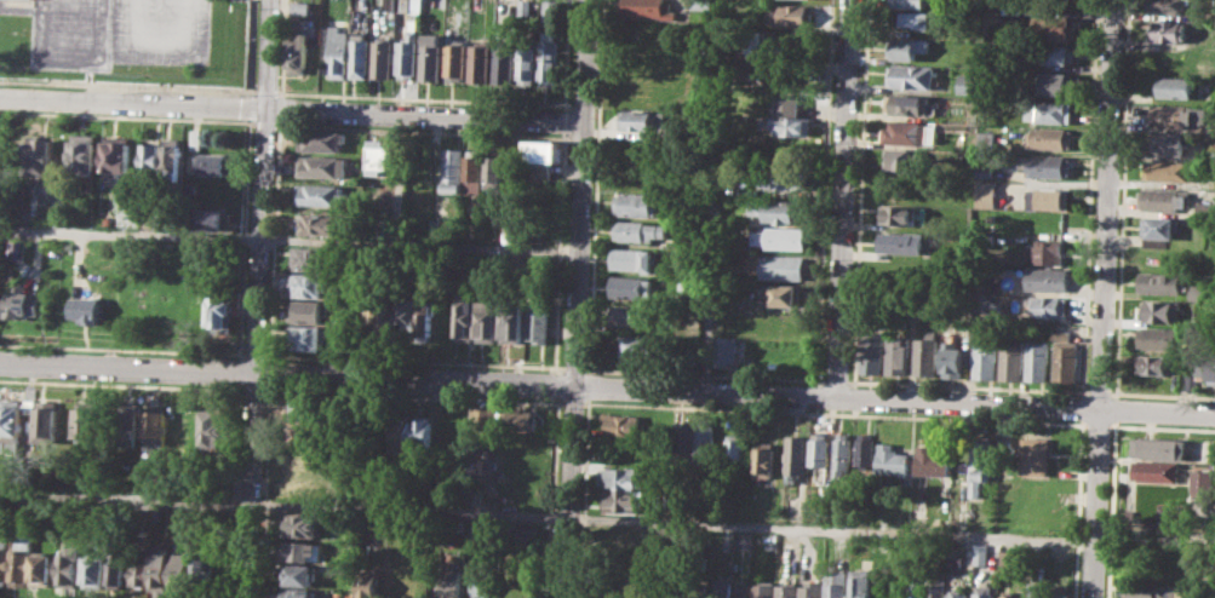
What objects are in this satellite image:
building: (698, 4)
building: (910, 4)
building: (389, 5)
building: (405, 5)
building: (525, 5)
building: (299, 6)
building: (1168, 6)
building: (647, 7)
building: (552, 10)
building: (992, 11)
building: (796, 15)
building: (916, 19)
building: (1055, 27)
building: (1170, 30)
parking lot: (164, 31)
road: (165, 41)
building: (909, 46)
road: (252, 47)
building: (338, 51)
building: (297, 52)
building: (1056, 53)
building: (360, 54)
building: (407, 54)
road: (568, 54)
building: (431, 56)
building: (382, 57)
building: (455, 59)
building: (480, 61)
building: (527, 61)
building: (549, 62)
building: (504, 64)
building: (911, 75)
building: (1055, 82)
building: (967, 84)
street lamp: (7, 85)
building: (1175, 86)
street lamp: (132, 91)
building: (911, 104)
road: (292, 108)
building: (1050, 111)
building: (1173, 115)
building: (642, 119)
road: (252, 120)
road: (566, 120)
building: (790, 120)
building: (905, 132)
building: (199, 137)
building: (1050, 137)
building: (321, 139)
building: (1169, 143)
building: (1, 153)
building: (87, 153)
building: (120, 154)
building: (174, 156)
building: (380, 156)
building: (541, 156)
building: (42, 157)
building: (153, 159)
building: (905, 159)
building: (218, 163)
building: (1050, 165)
building: (322, 166)
building: (452, 168)
building: (1168, 169)
building: (985, 171)
building: (495, 172)
building: (475, 174)
building: (778, 178)
road: (597, 185)
road: (825, 190)
road: (860, 190)
building: (985, 192)
building: (323, 195)
road: (712, 195)
road: (1088, 195)
road: (844, 197)
building: (1048, 199)
road: (1121, 199)
building: (1163, 199)
building: (636, 203)
building: (29, 205)
building: (1204, 208)
building: (781, 209)
building: (899, 214)
building: (218, 217)
building: (322, 223)
building: (443, 226)
building: (638, 230)
building: (1157, 230)
building: (512, 234)
building: (781, 237)
road: (290, 238)
road: (274, 241)
building: (900, 242)
building: (19, 248)
road: (560, 252)
building: (1048, 252)
building: (314, 258)
building: (635, 258)
building: (784, 266)
building: (1047, 278)
building: (1158, 282)
building: (314, 284)
building: (632, 287)
building: (781, 294)
road: (257, 298)
road: (578, 299)
road: (1102, 299)
building: (25, 304)
building: (1047, 306)
building: (87, 309)
building: (0, 310)
building: (311, 310)
building: (224, 311)
building: (1164, 311)
building: (630, 315)
building: (465, 316)
building: (407, 317)
building: (428, 318)
building: (488, 321)
building: (512, 321)
building: (538, 321)
building: (385, 324)
building: (1158, 338)
building: (314, 339)
building: (641, 345)
road: (124, 349)
building: (724, 350)
building: (872, 351)
building: (898, 353)
building: (927, 353)
road: (256, 355)
building: (1062, 357)
building: (1009, 360)
road: (414, 361)
building: (952, 361)
building: (985, 361)
building: (1036, 361)
building: (1205, 362)
building: (1154, 364)
road: (573, 368)
road: (270, 373)
road: (703, 374)
road: (835, 380)
road: (121, 384)
road: (557, 384)
road: (607, 385)
road: (965, 385)
road: (590, 386)
building: (625, 387)
road: (253, 390)
road: (1096, 391)
road: (1081, 393)
road: (1160, 393)
road: (413, 396)
road: (573, 403)
road: (1079, 408)
road: (1112, 409)
building: (314, 410)
road: (833, 413)
building: (11, 414)
building: (521, 420)
building: (45, 421)
building: (87, 421)
building: (482, 421)
building: (621, 422)
building: (127, 424)
road: (1095, 425)
building: (156, 426)
building: (219, 426)
building: (188, 427)
road: (1159, 427)
building: (425, 430)
building: (402, 435)
building: (313, 437)
building: (683, 438)
building: (8, 443)
building: (709, 443)
building: (819, 448)
building: (1159, 448)
building: (737, 450)
building: (866, 450)
building: (796, 453)
building: (842, 454)
building: (1036, 456)
building: (766, 459)
building: (308, 460)
building: (893, 460)
building: (980, 460)
building: (932, 461)
building: (518, 467)
building: (1156, 471)
building: (623, 477)
building: (1200, 482)
building: (305, 487)
road: (265, 491)
road: (555, 496)
road: (585, 498)
building: (620, 501)
road: (1076, 508)
road: (1108, 508)
road: (546, 514)
building: (305, 524)
building: (619, 536)
building: (882, 547)
building: (304, 550)
building: (982, 554)
building: (961, 556)
building: (22, 558)
building: (4, 559)
building: (1009, 560)
building: (160, 565)
building: (70, 568)
building: (42, 569)
building: (141, 570)
building: (96, 571)
building: (180, 573)
building: (118, 574)
building: (299, 574)
building: (205, 575)
building: (452, 580)
building: (483, 581)
building: (369, 582)
building: (861, 582)
building: (837, 583)
building: (918, 586)
building: (938, 587)
building: (813, 588)
building: (663, 590)
building: (1036, 590)
building: (1156, 590)
building: (763, 591)
building: (787, 591)
building: (986, 591)
building: (298, 593)
building: (961, 594)
building: (1059, 594)
building: (740, 596)
building: (1011, 596)

